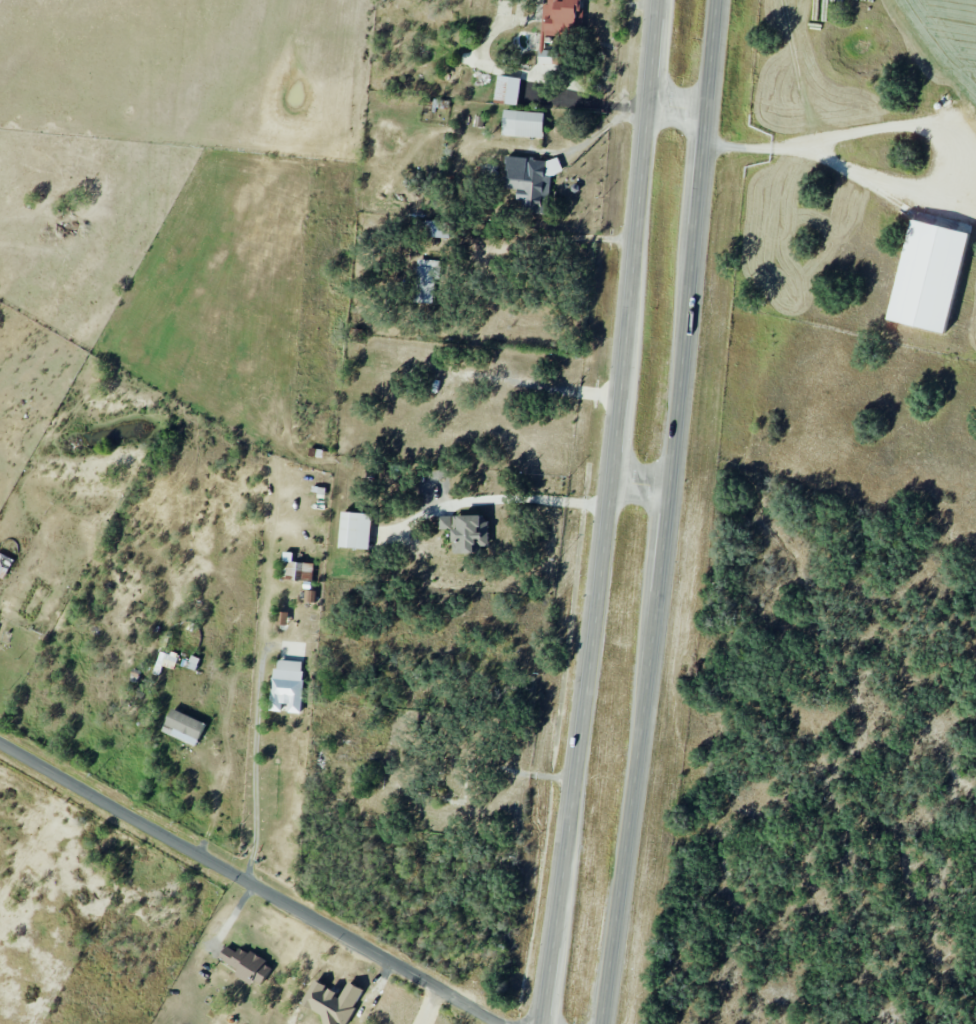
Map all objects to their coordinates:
building: (562, 16)
building: (546, 57)
building: (507, 90)
road: (678, 107)
building: (523, 124)
building: (531, 182)
building: (436, 229)
road: (558, 231)
building: (927, 277)
building: (425, 281)
road: (641, 483)
road: (497, 498)
road: (668, 512)
road: (608, 513)
building: (355, 529)
building: (466, 531)
building: (5, 565)
building: (296, 566)
building: (310, 595)
building: (283, 617)
building: (167, 659)
building: (287, 685)
road: (260, 700)
building: (185, 725)
road: (217, 802)
road: (253, 882)
building: (246, 964)
building: (333, 1001)

